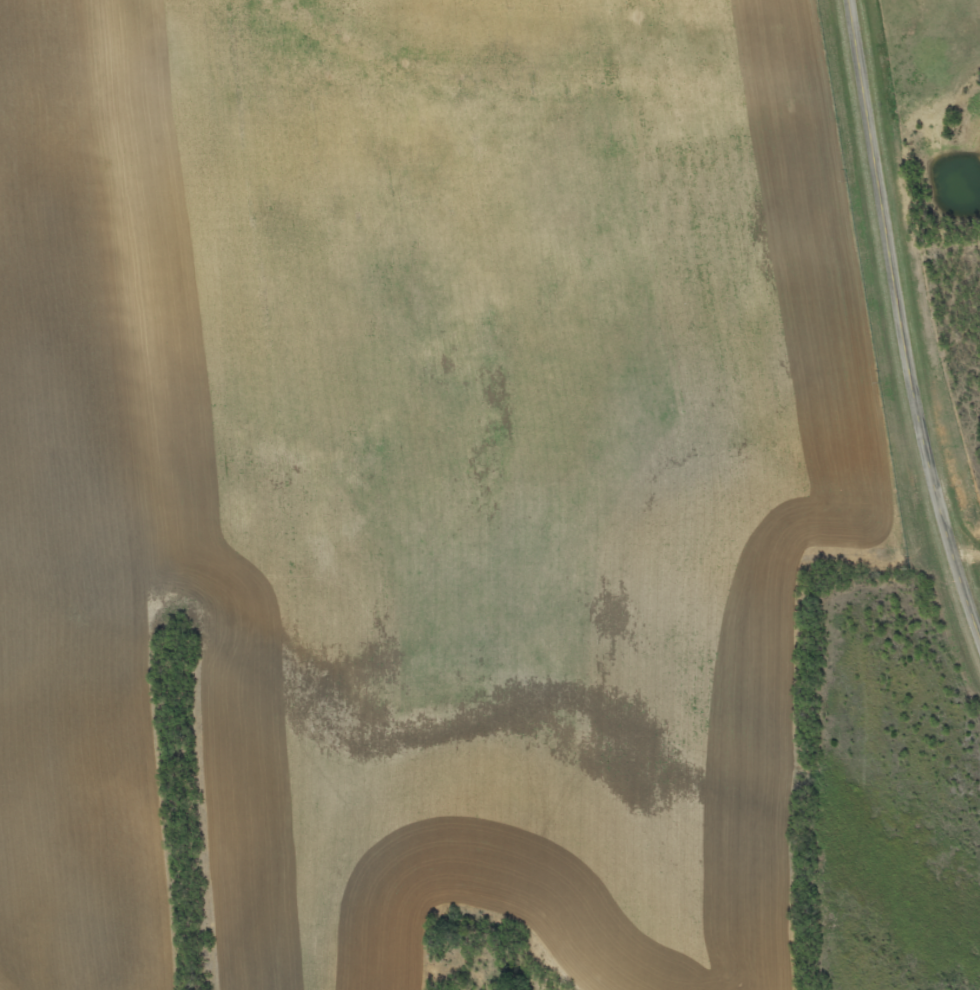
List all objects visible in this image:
road: (902, 315)
road: (967, 563)

